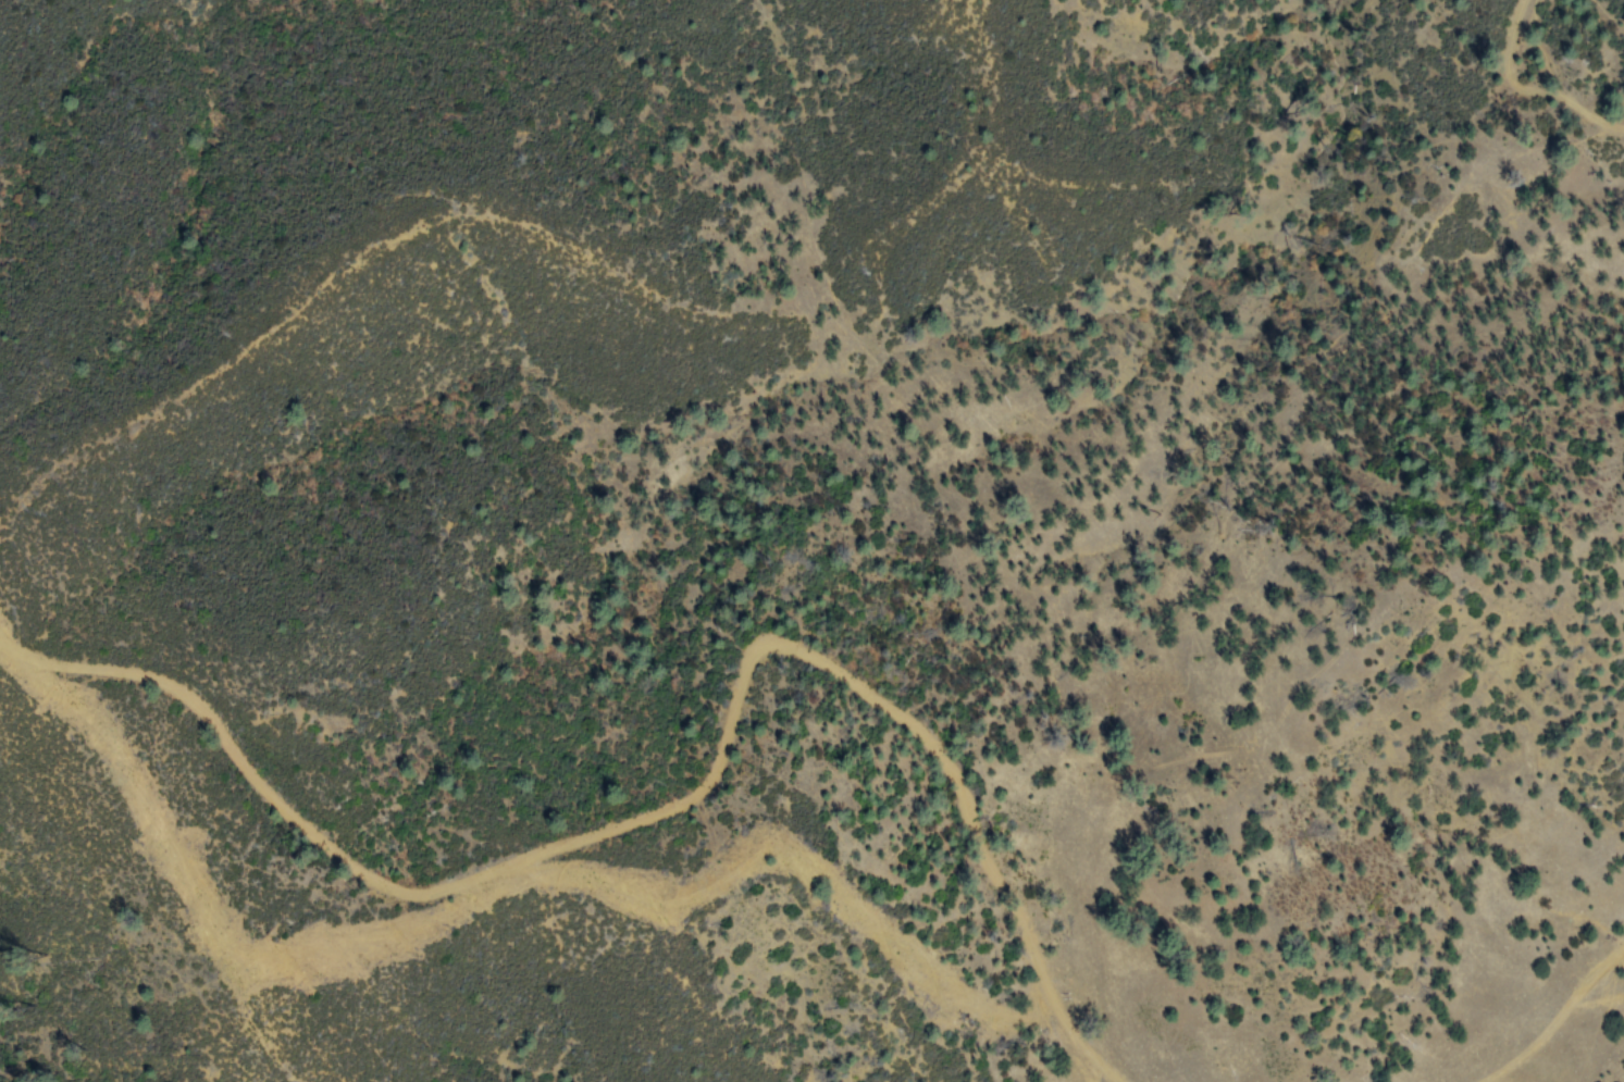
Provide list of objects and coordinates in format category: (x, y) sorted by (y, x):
road: (682, 816)

